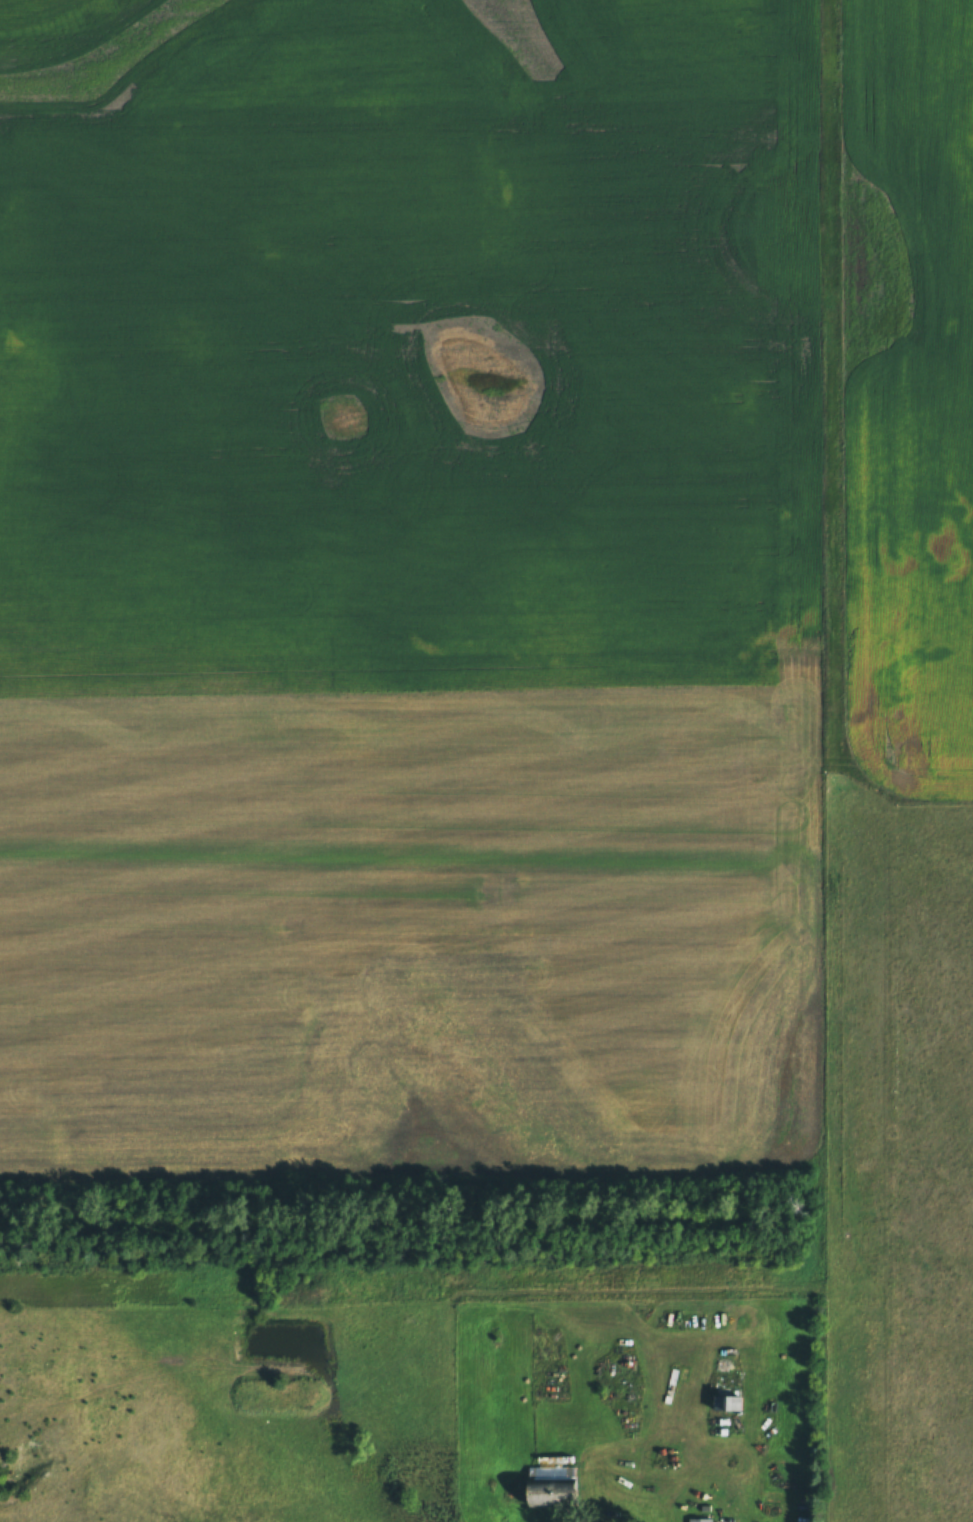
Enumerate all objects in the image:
building: (730, 1403)
building: (551, 1479)
building: (698, 1520)

